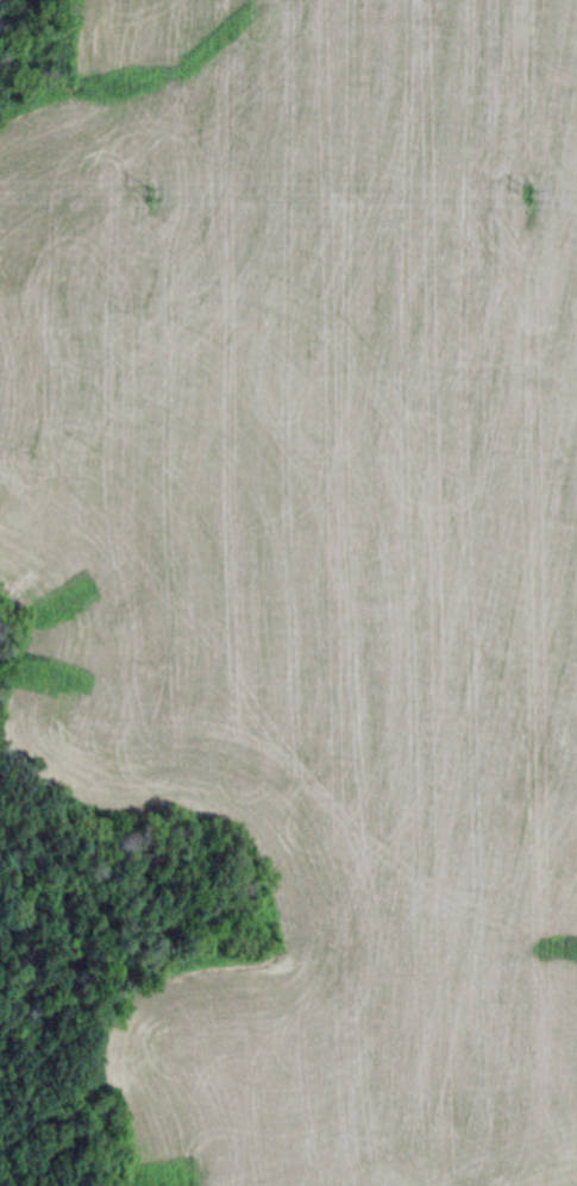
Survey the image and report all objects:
power tower: (150, 194)
power tower: (531, 195)

